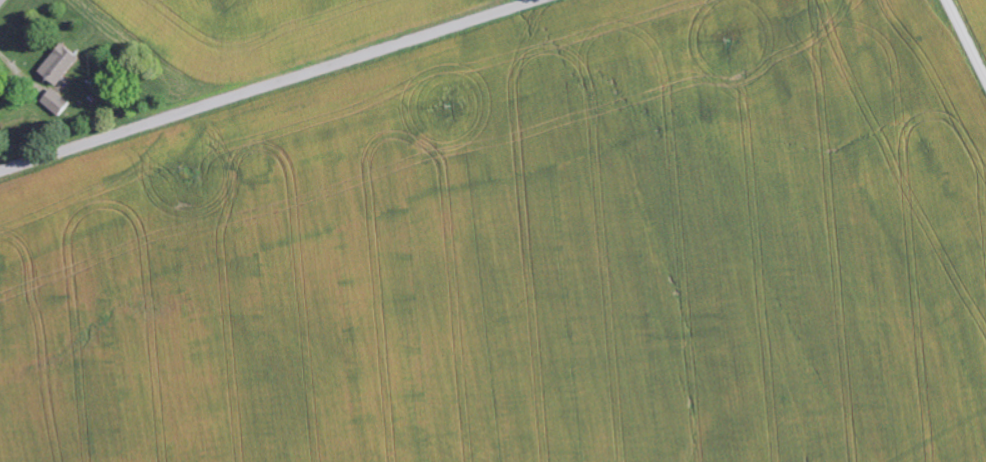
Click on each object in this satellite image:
road: (965, 40)
building: (60, 66)
road: (274, 87)
building: (57, 103)

